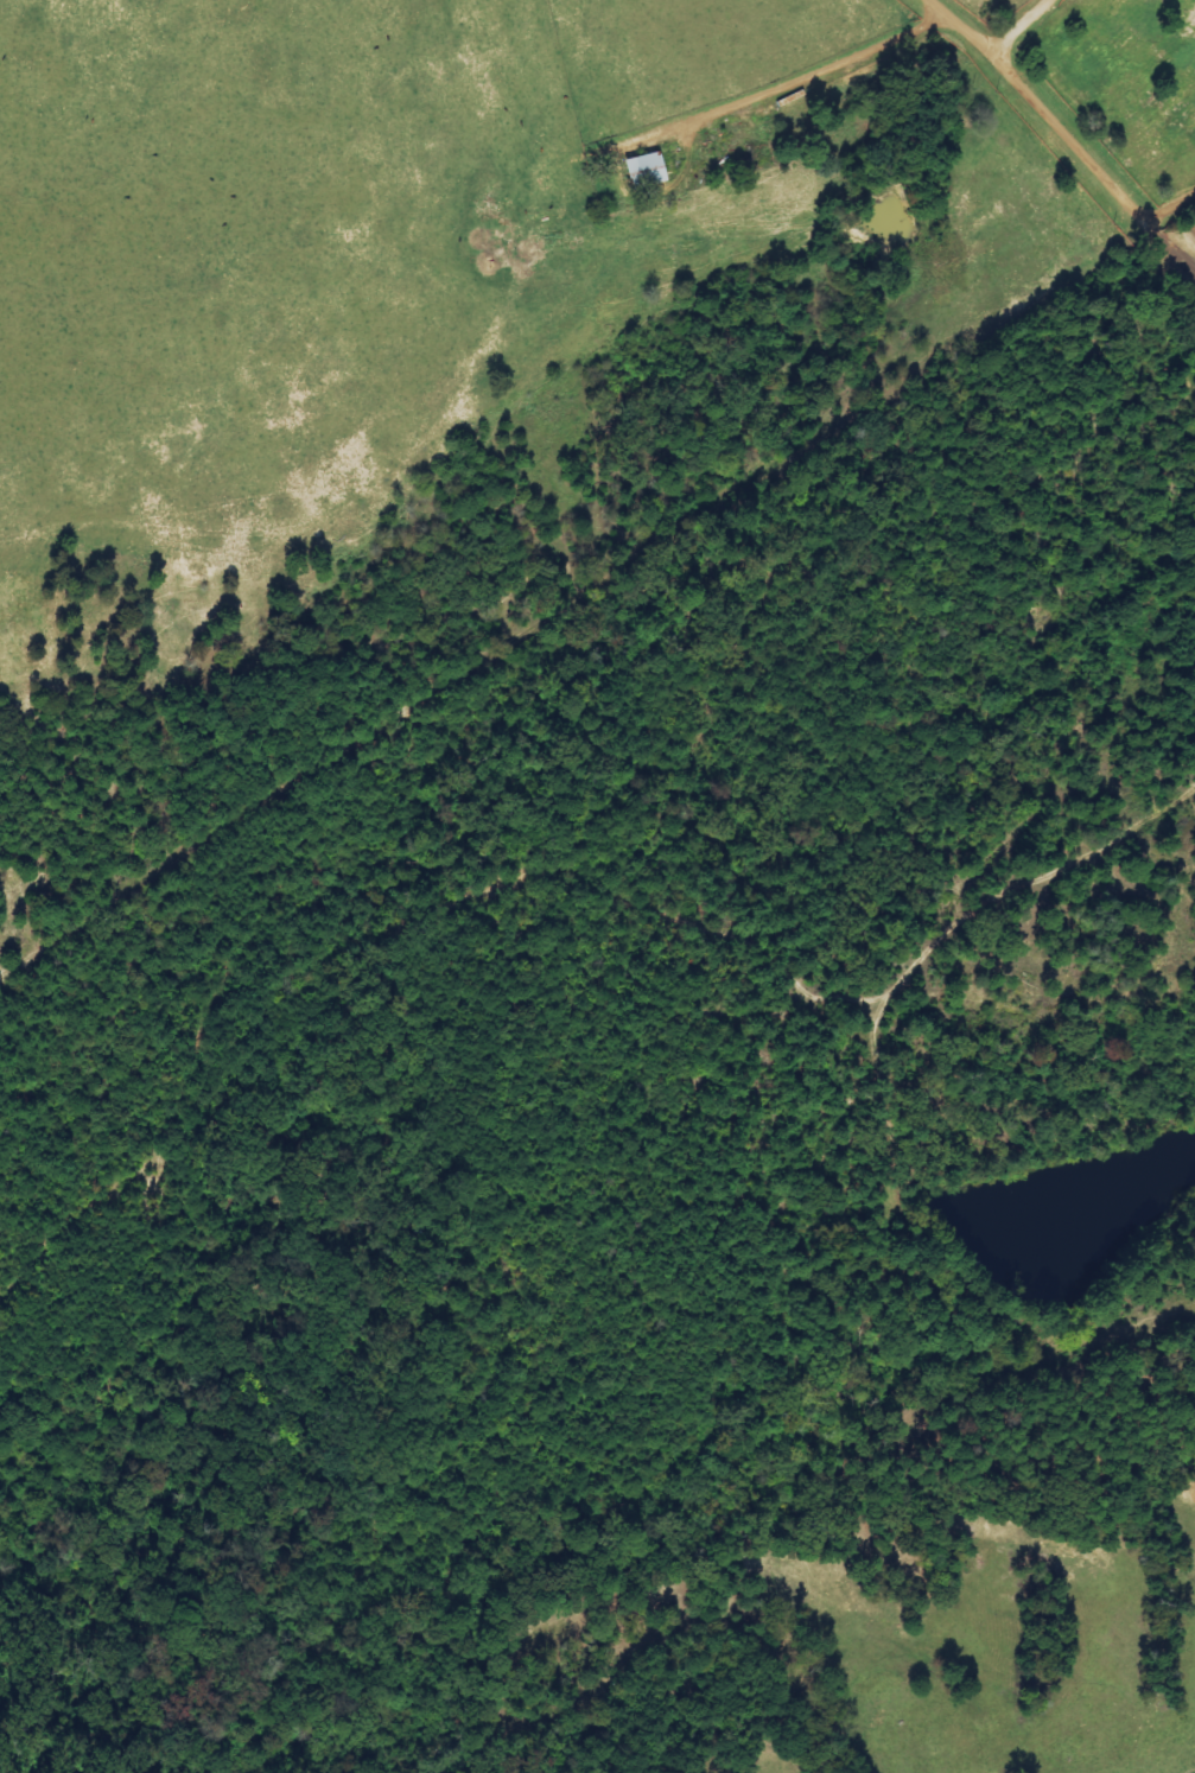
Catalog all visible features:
building: (647, 171)
road: (1183, 254)

